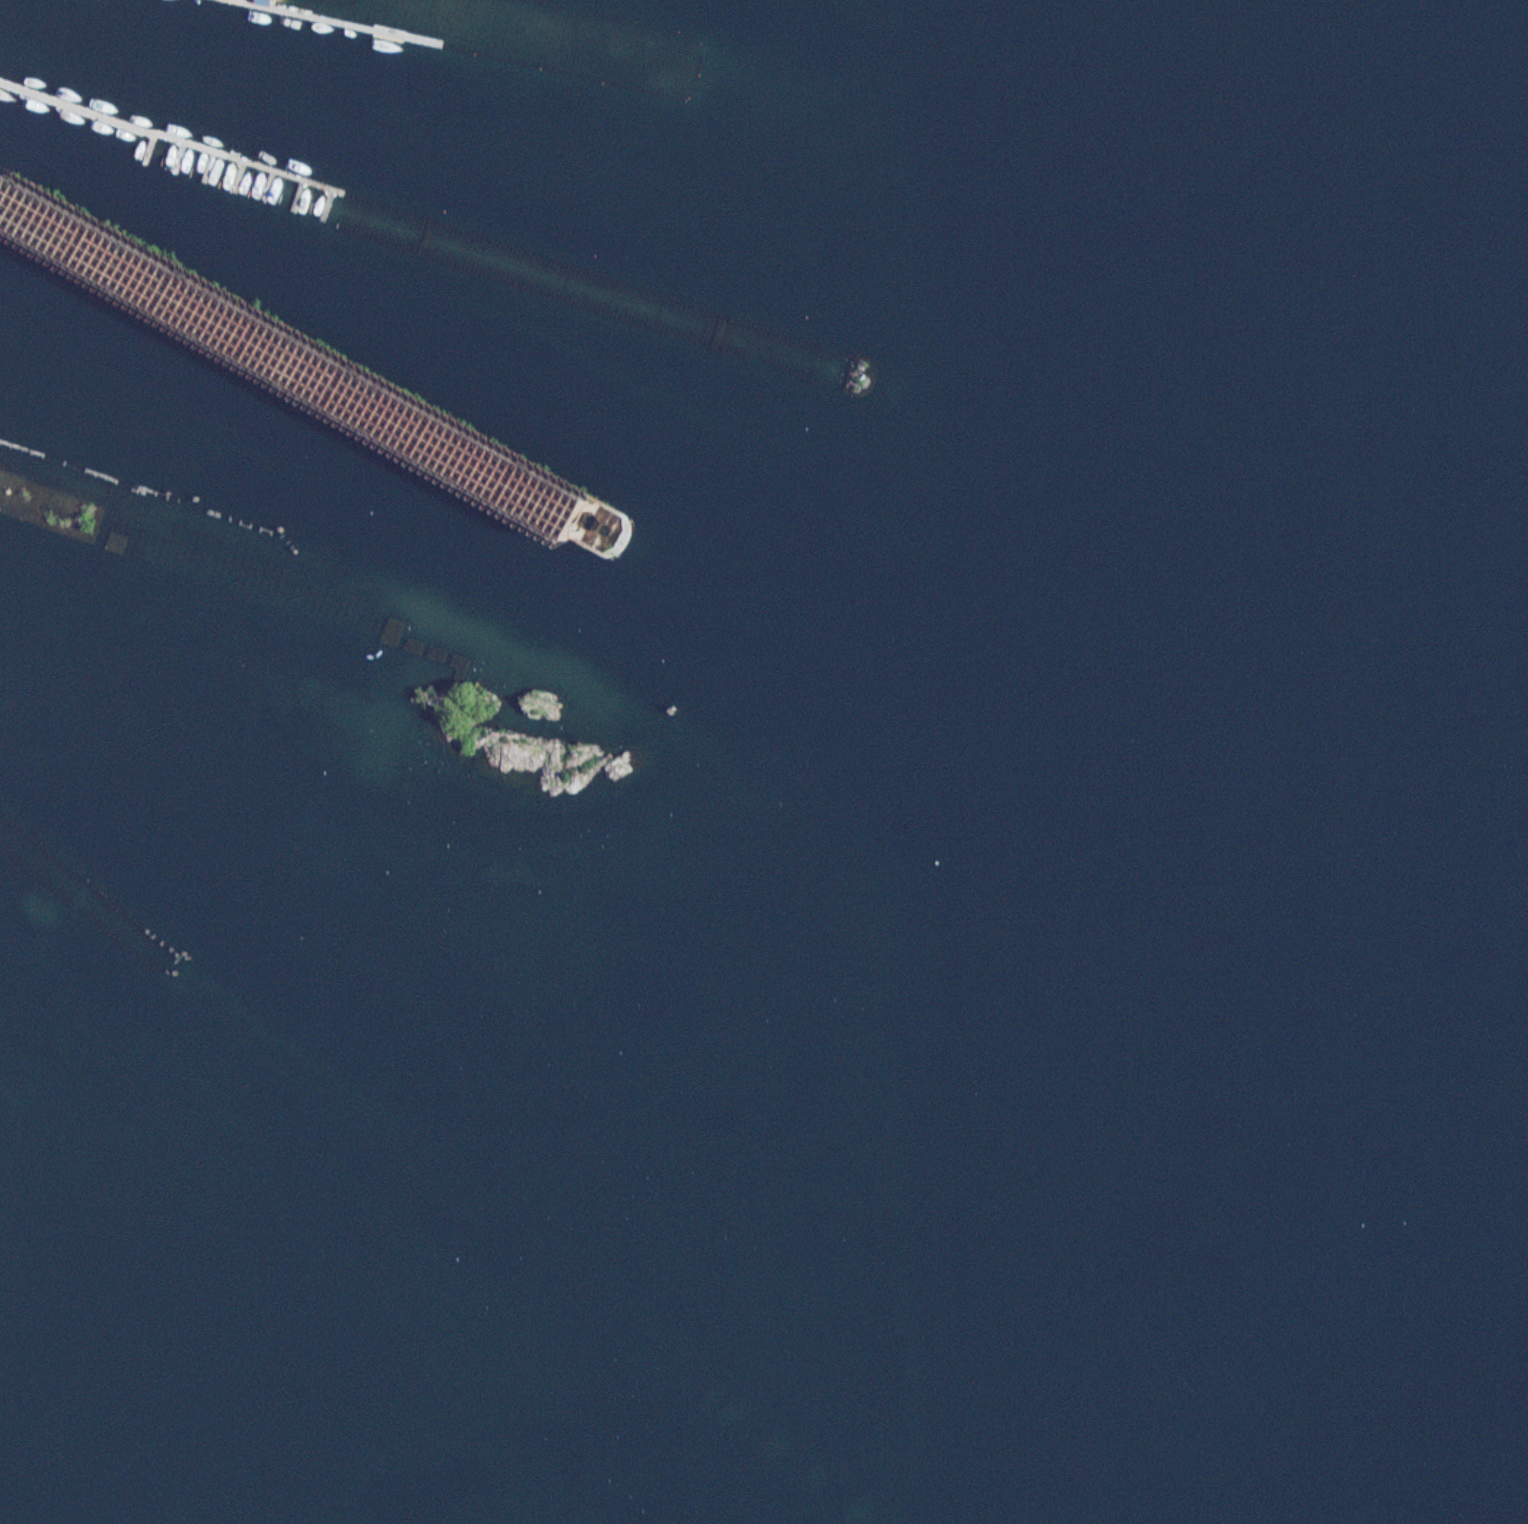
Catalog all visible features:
building: (271, 1)
pier: (346, 21)
pier: (172, 133)

